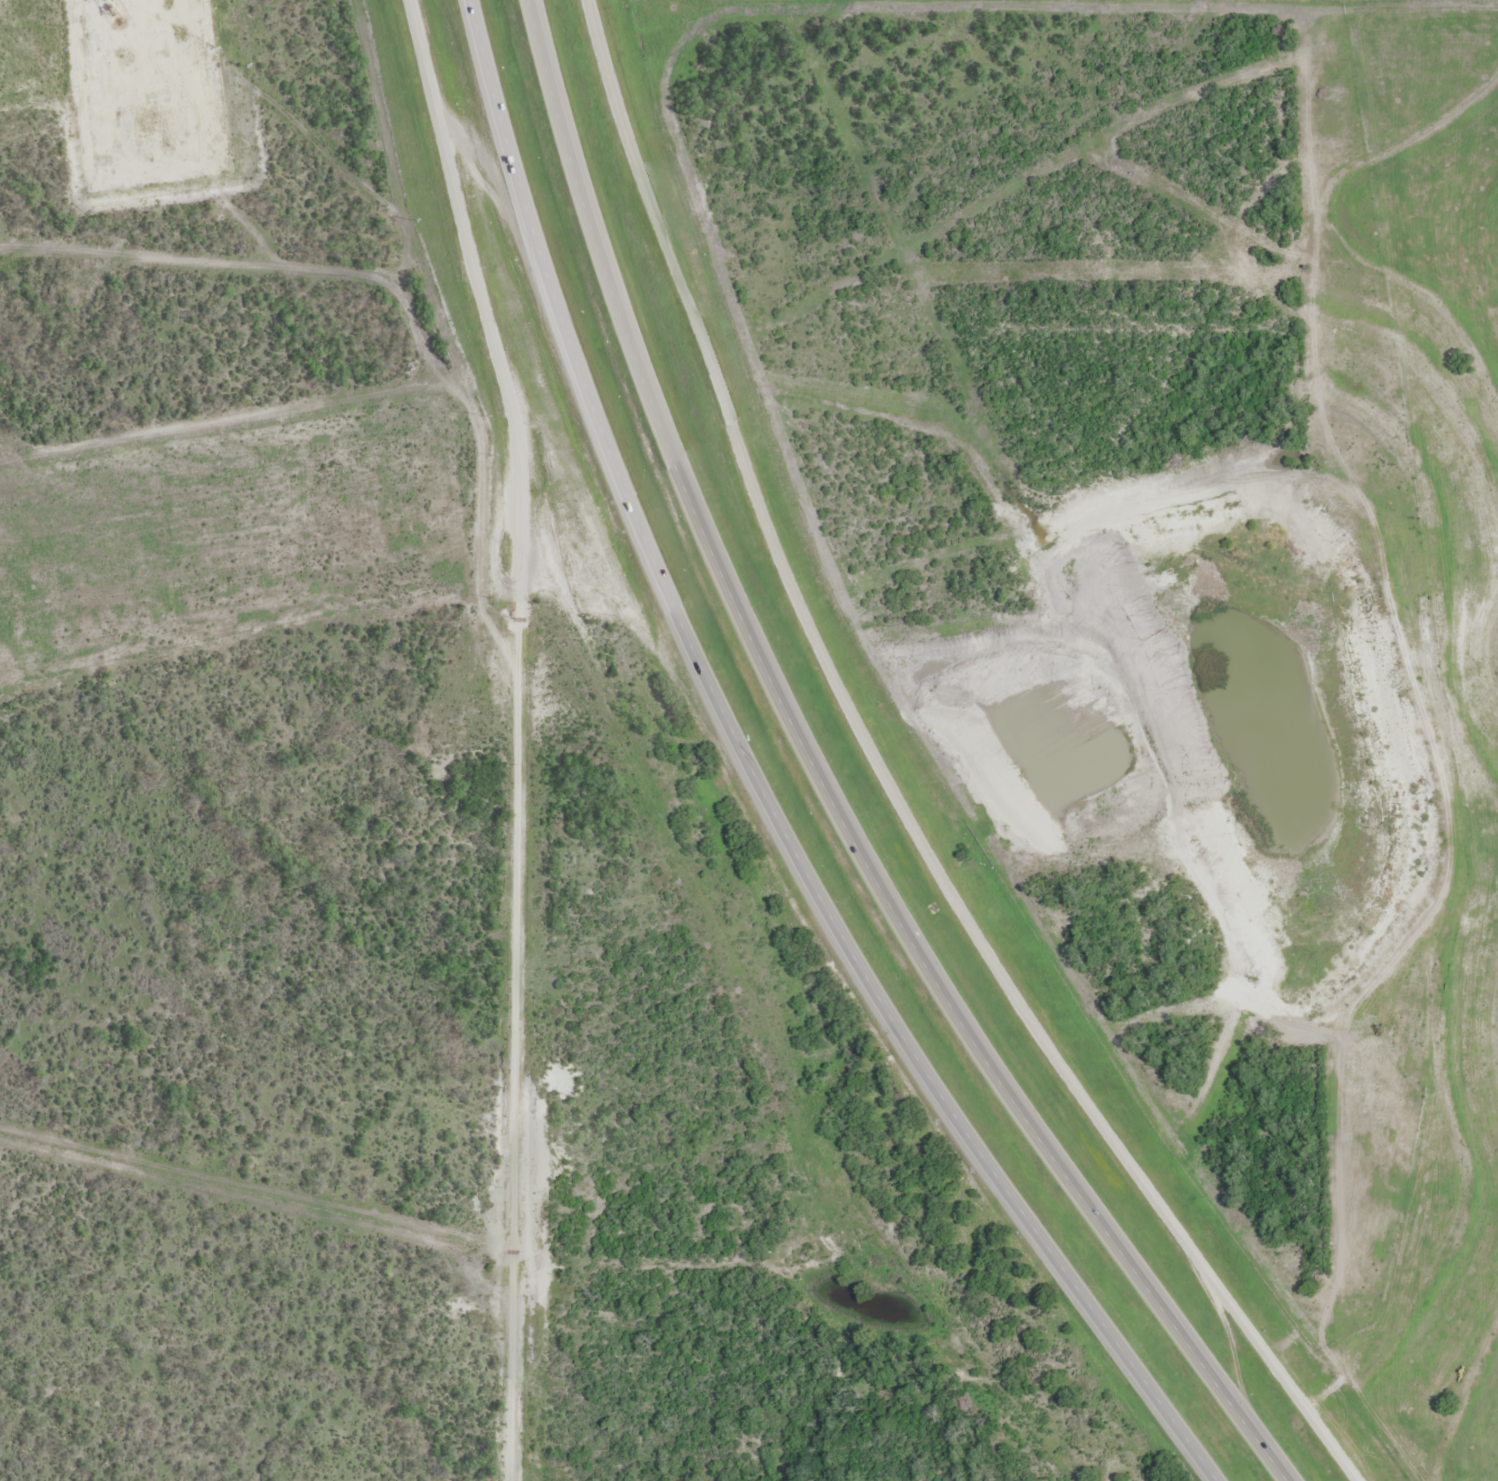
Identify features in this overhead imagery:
road: (165, 10)
road: (480, 294)
road: (763, 782)
road: (888, 783)
road: (821, 785)
road: (514, 1037)

